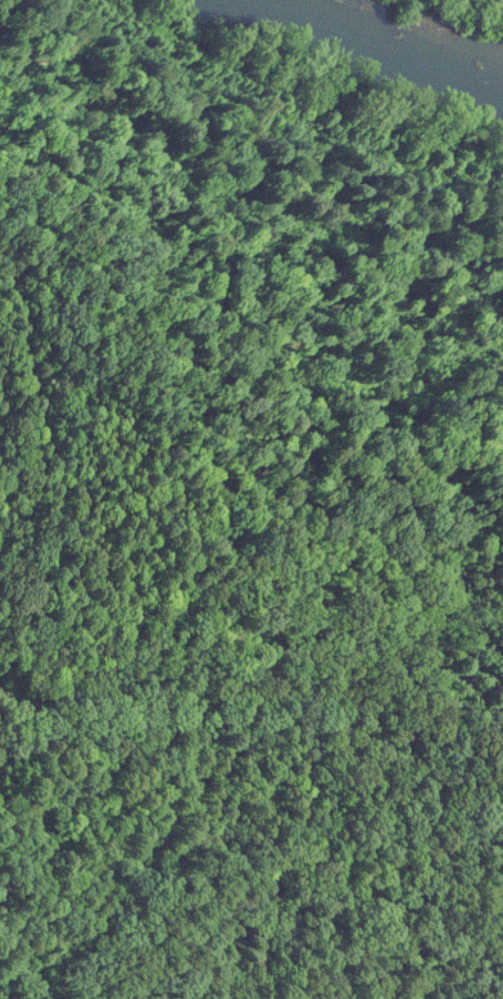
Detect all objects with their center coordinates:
river: (390, 50)
road: (271, 712)

